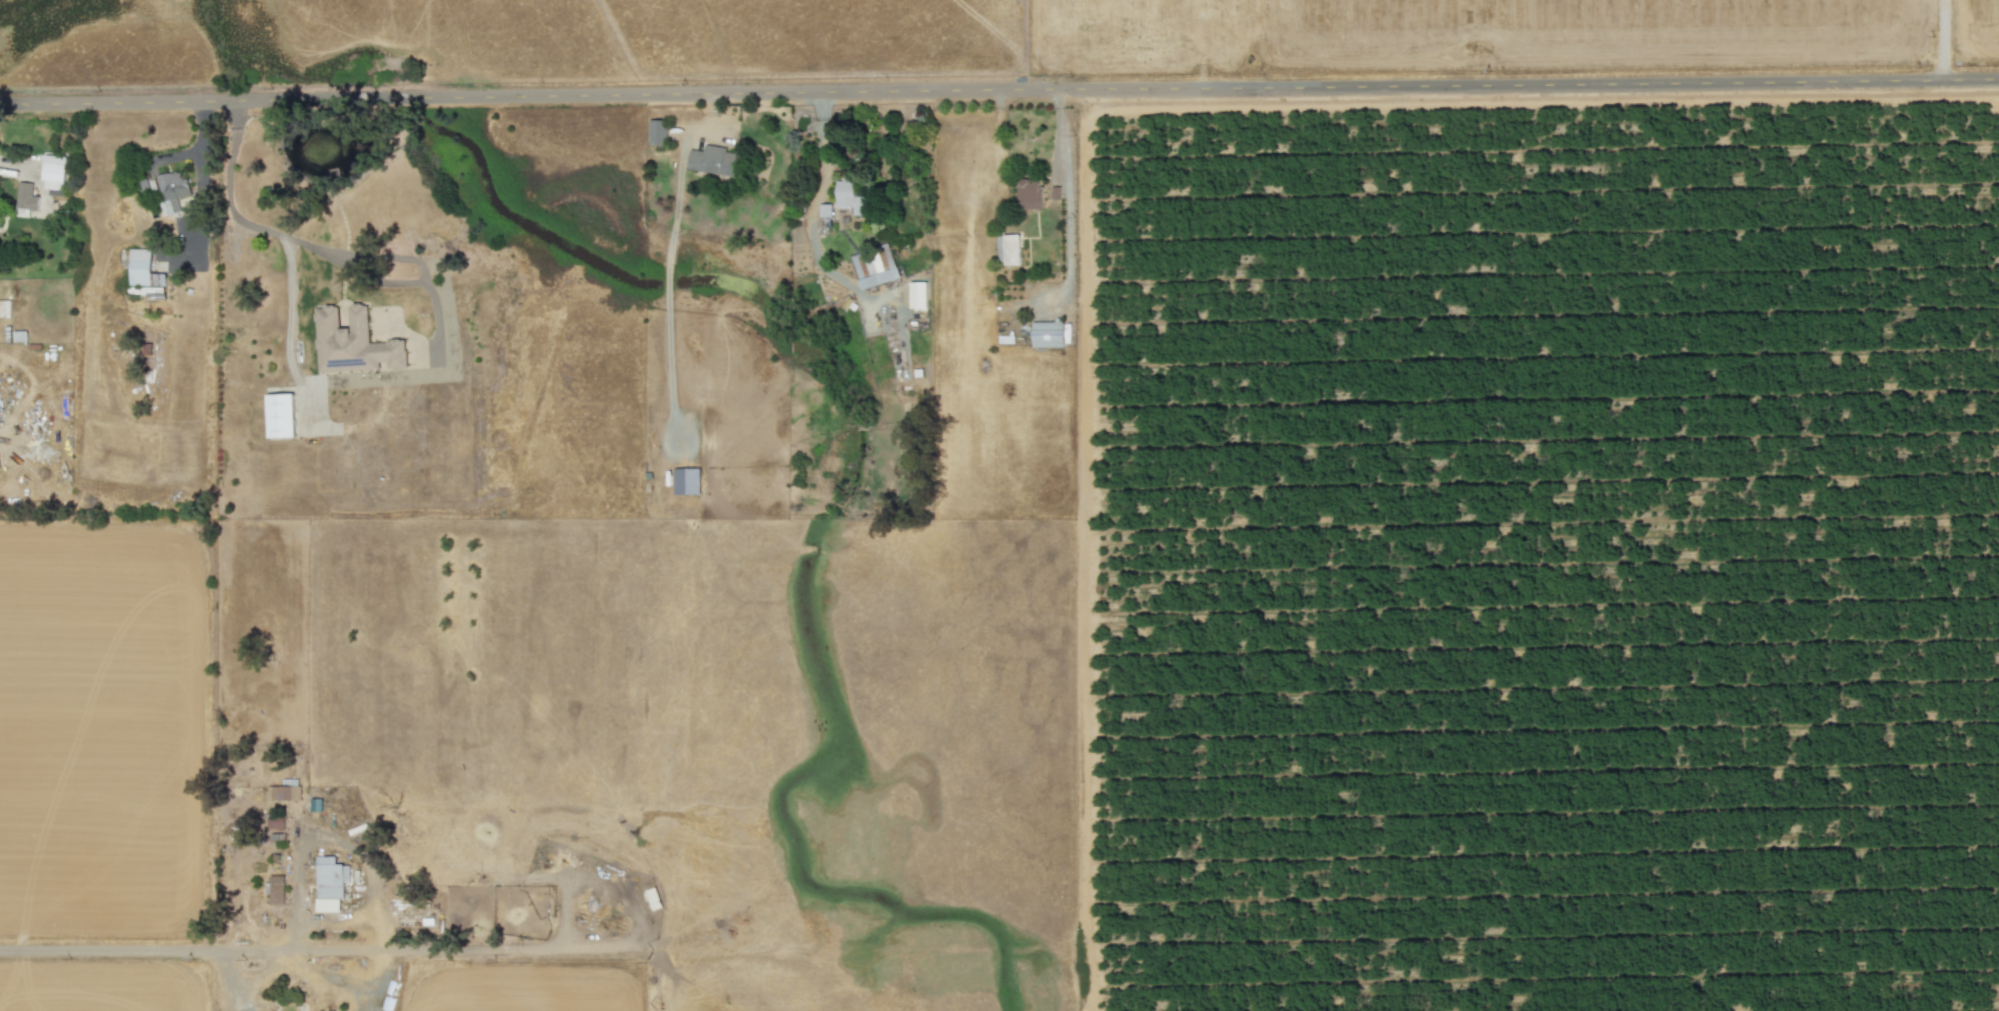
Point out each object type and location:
building: (1079, 10)
road: (1944, 39)
road: (999, 89)
building: (658, 132)
building: (711, 160)
building: (54, 172)
road: (202, 181)
building: (172, 190)
building: (1030, 193)
road: (1063, 193)
building: (851, 197)
building: (25, 199)
road: (813, 208)
building: (825, 209)
road: (236, 211)
building: (1009, 249)
building: (875, 266)
building: (918, 295)
building: (5, 308)
building: (1048, 334)
building: (353, 342)
building: (281, 415)
building: (287, 790)
building: (330, 883)
building: (276, 889)
road: (324, 952)

